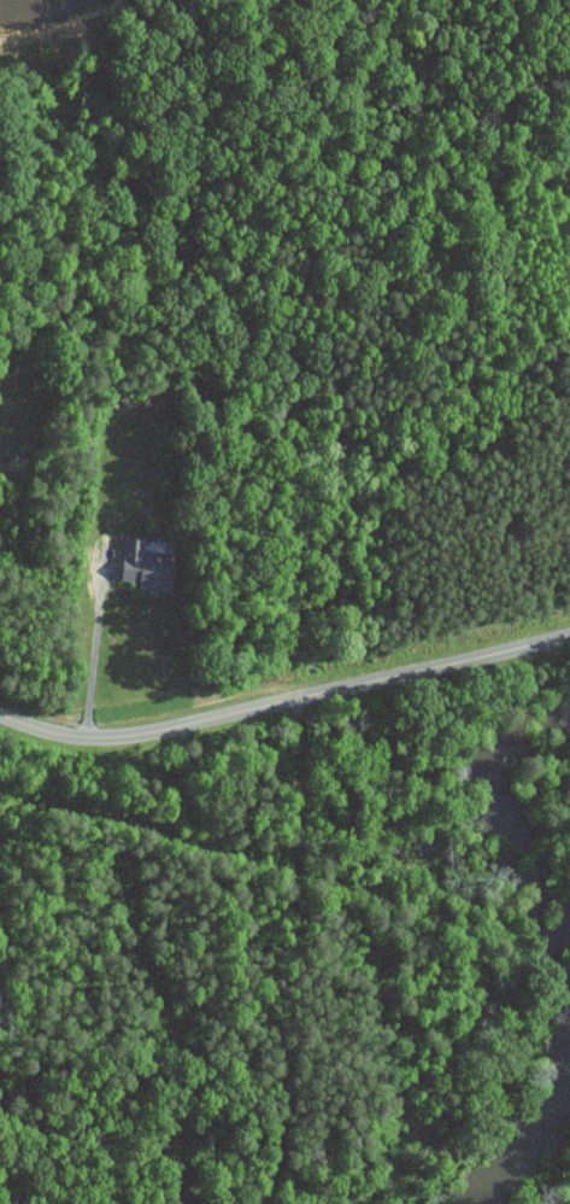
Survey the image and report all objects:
building: (147, 565)
road: (95, 645)
road: (284, 701)

